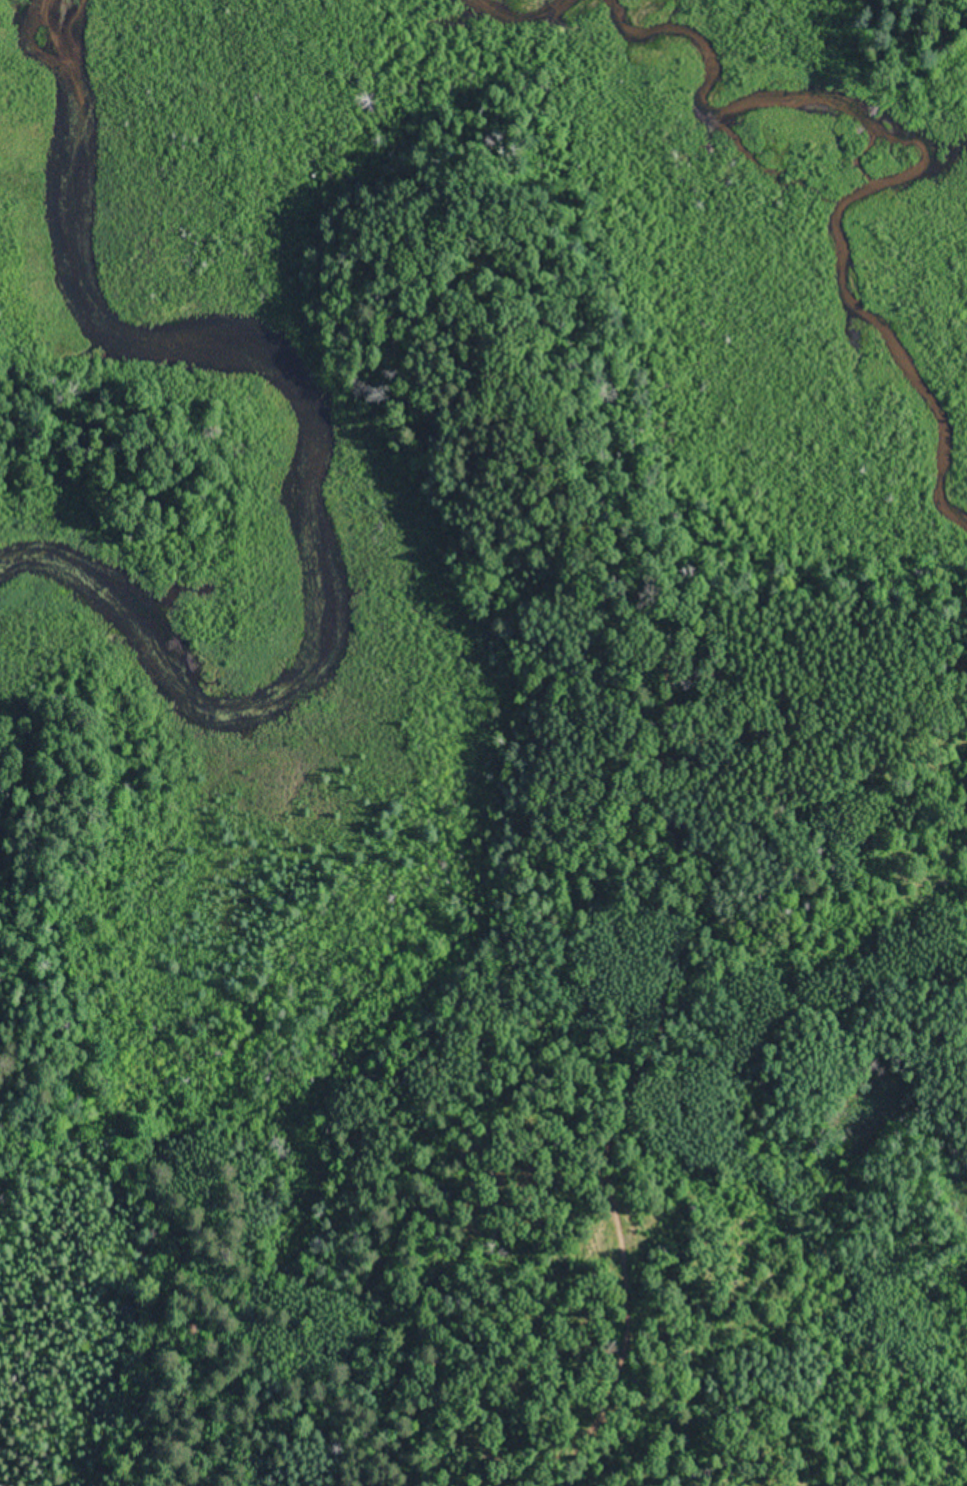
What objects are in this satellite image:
road: (634, 1212)

